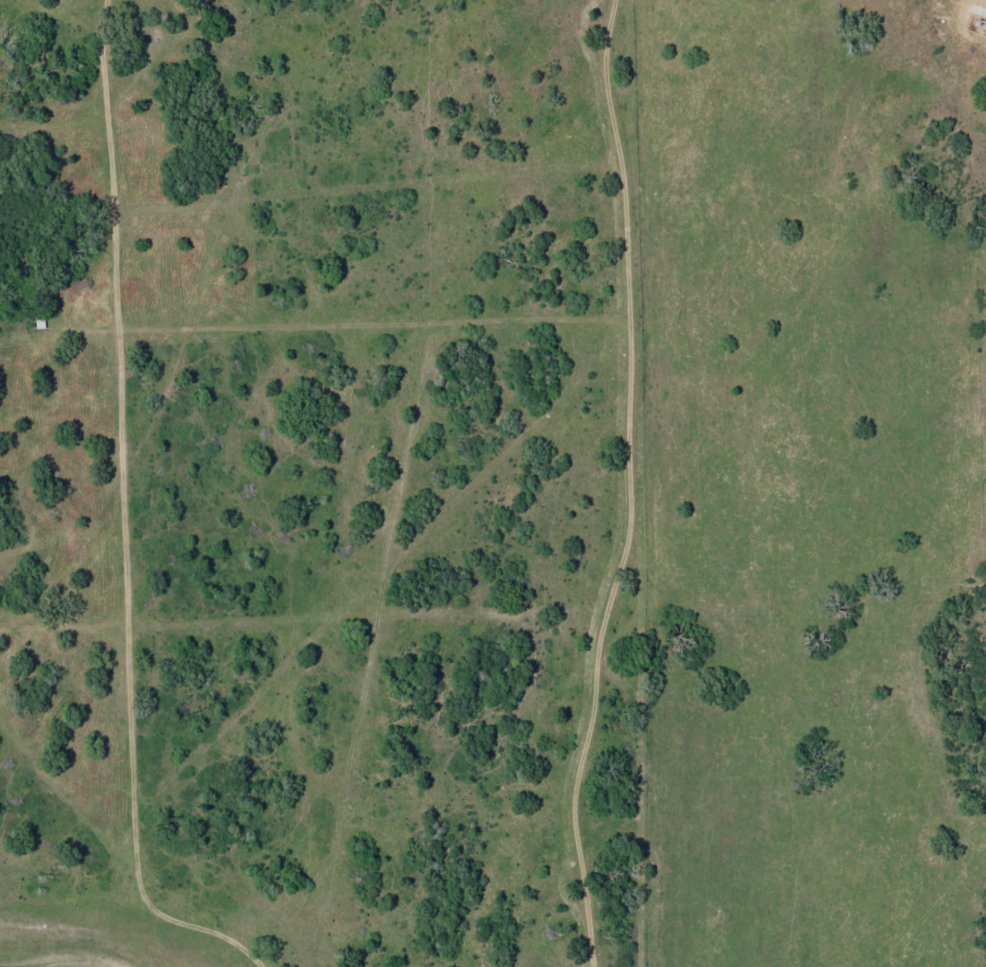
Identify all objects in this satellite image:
road: (969, 931)

